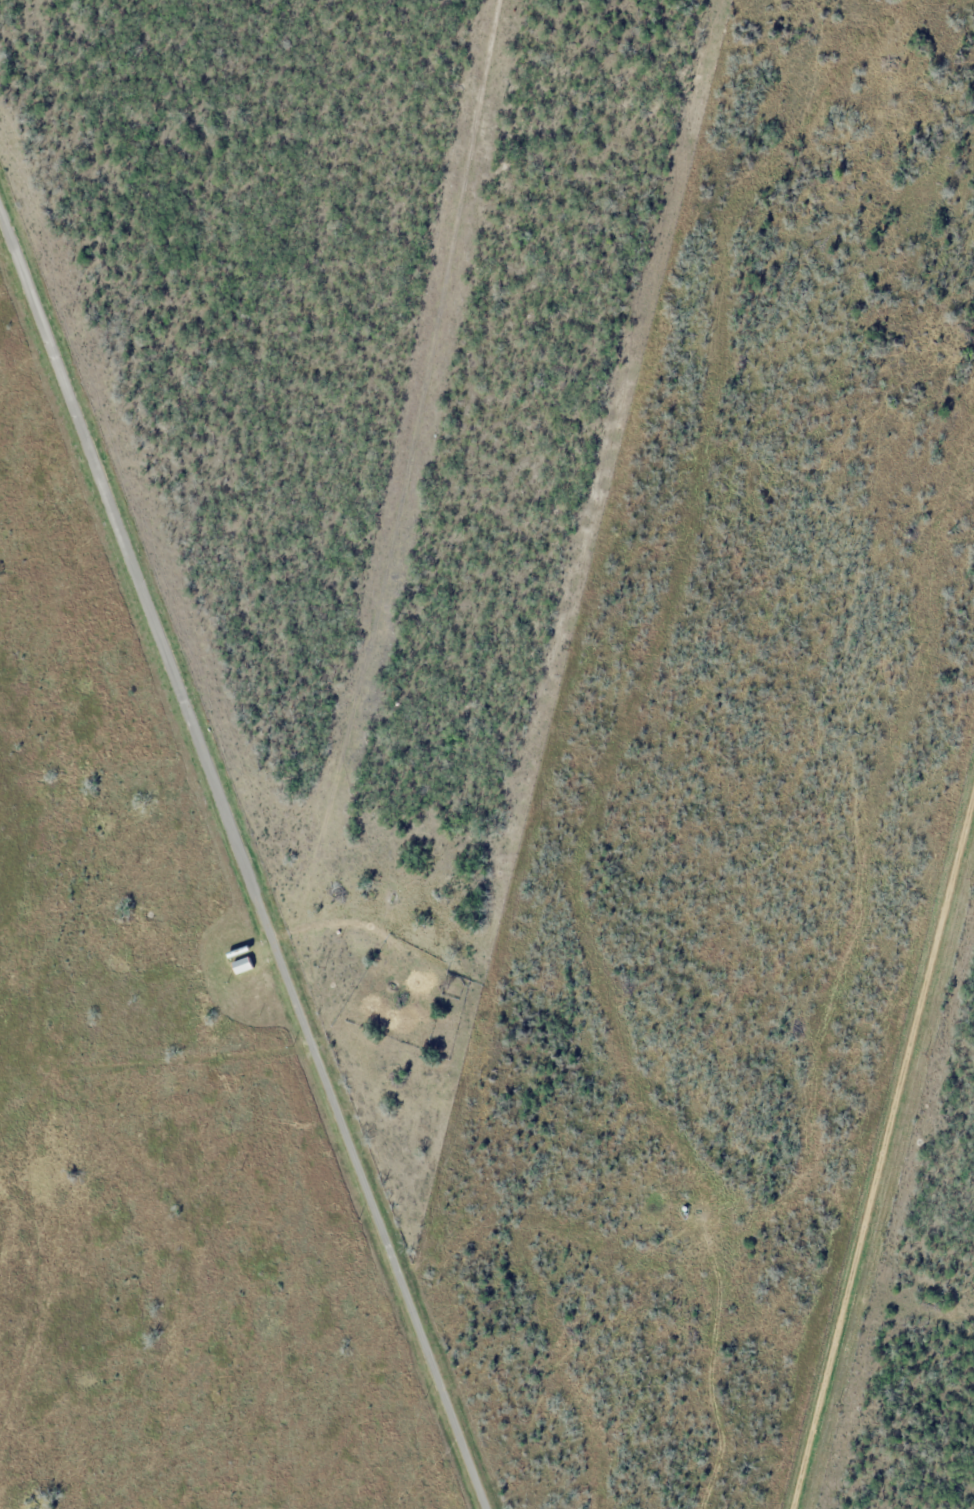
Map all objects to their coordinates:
road: (243, 853)
building: (245, 962)

